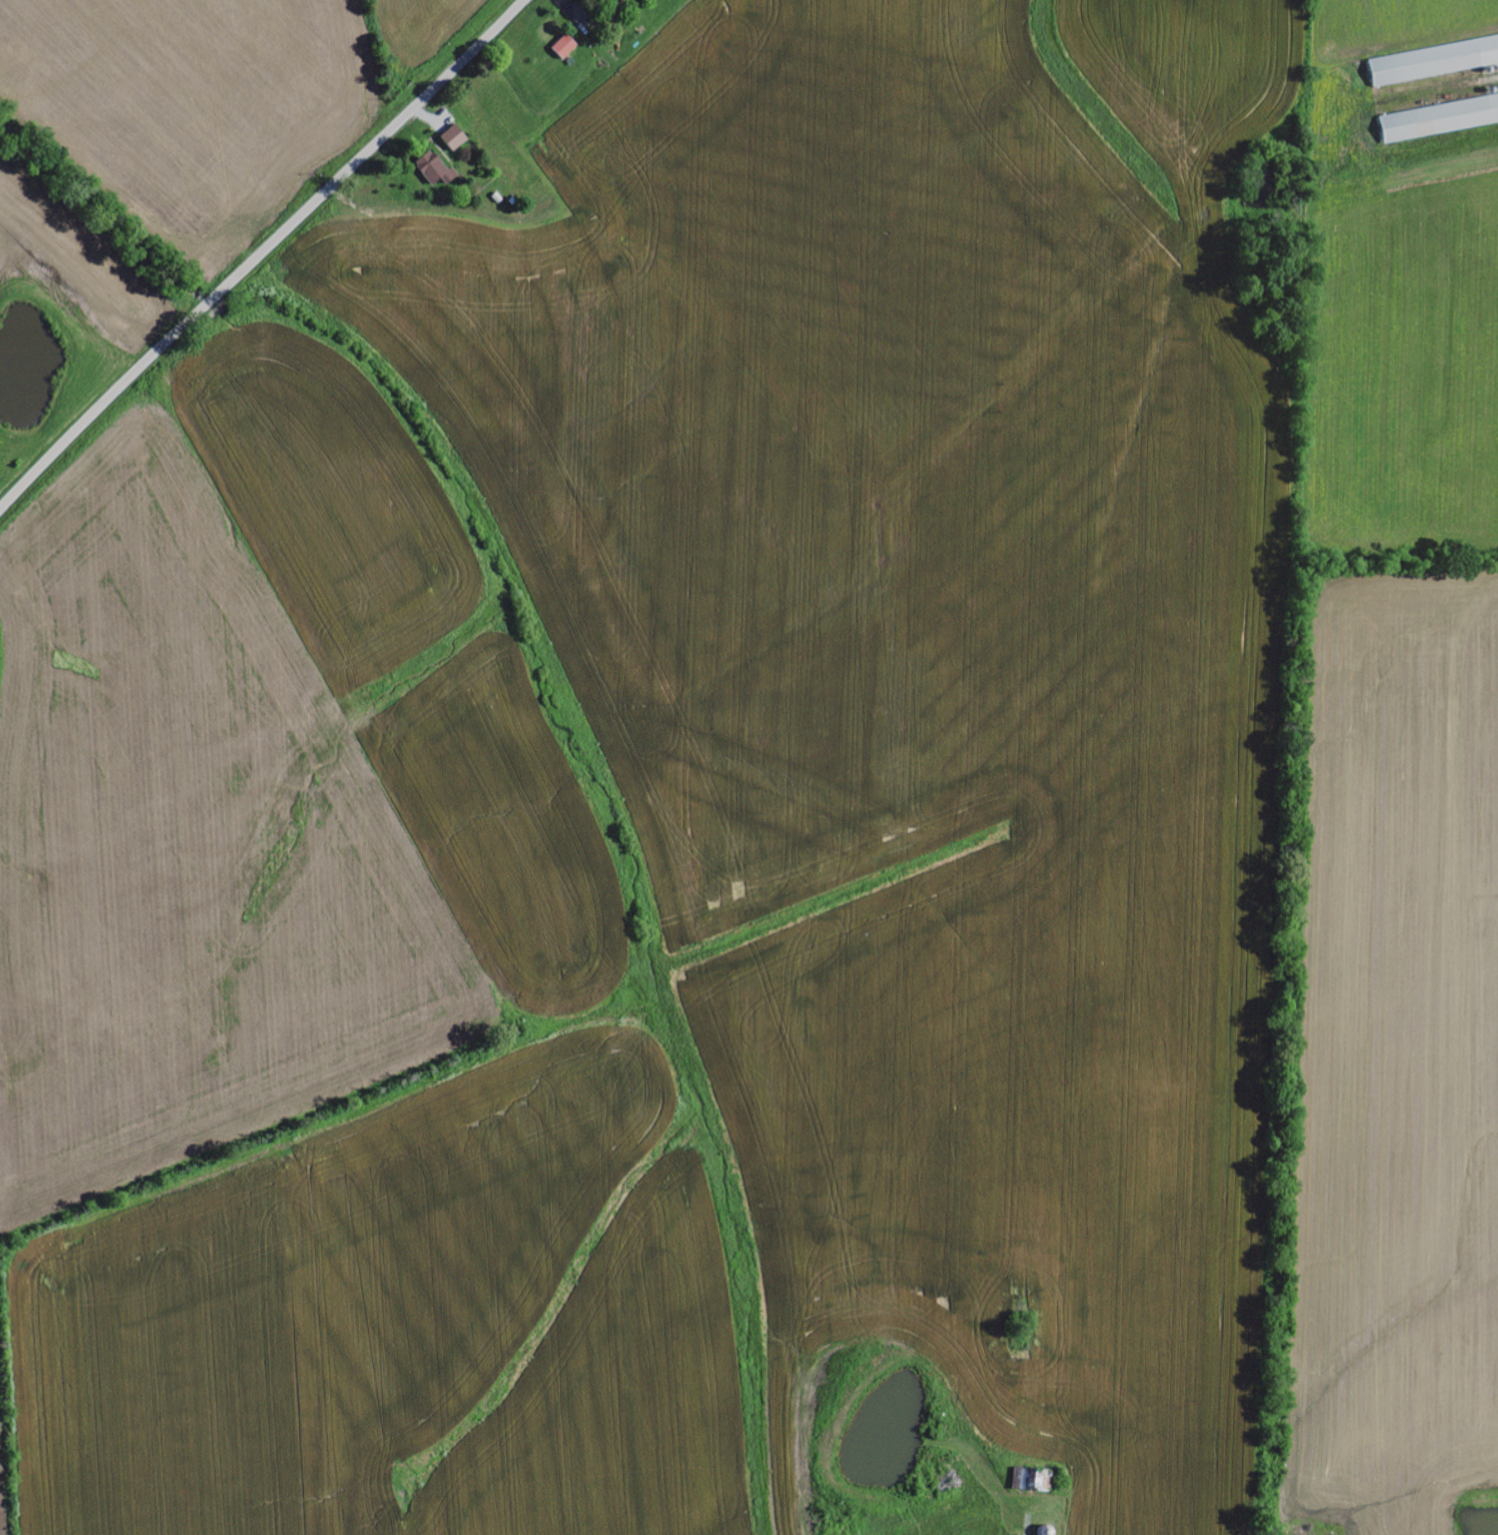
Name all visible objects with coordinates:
building: (615, 1)
building: (564, 48)
building: (1434, 61)
building: (1439, 118)
building: (454, 138)
road: (370, 147)
building: (434, 169)
road: (106, 398)
building: (1037, 1481)

